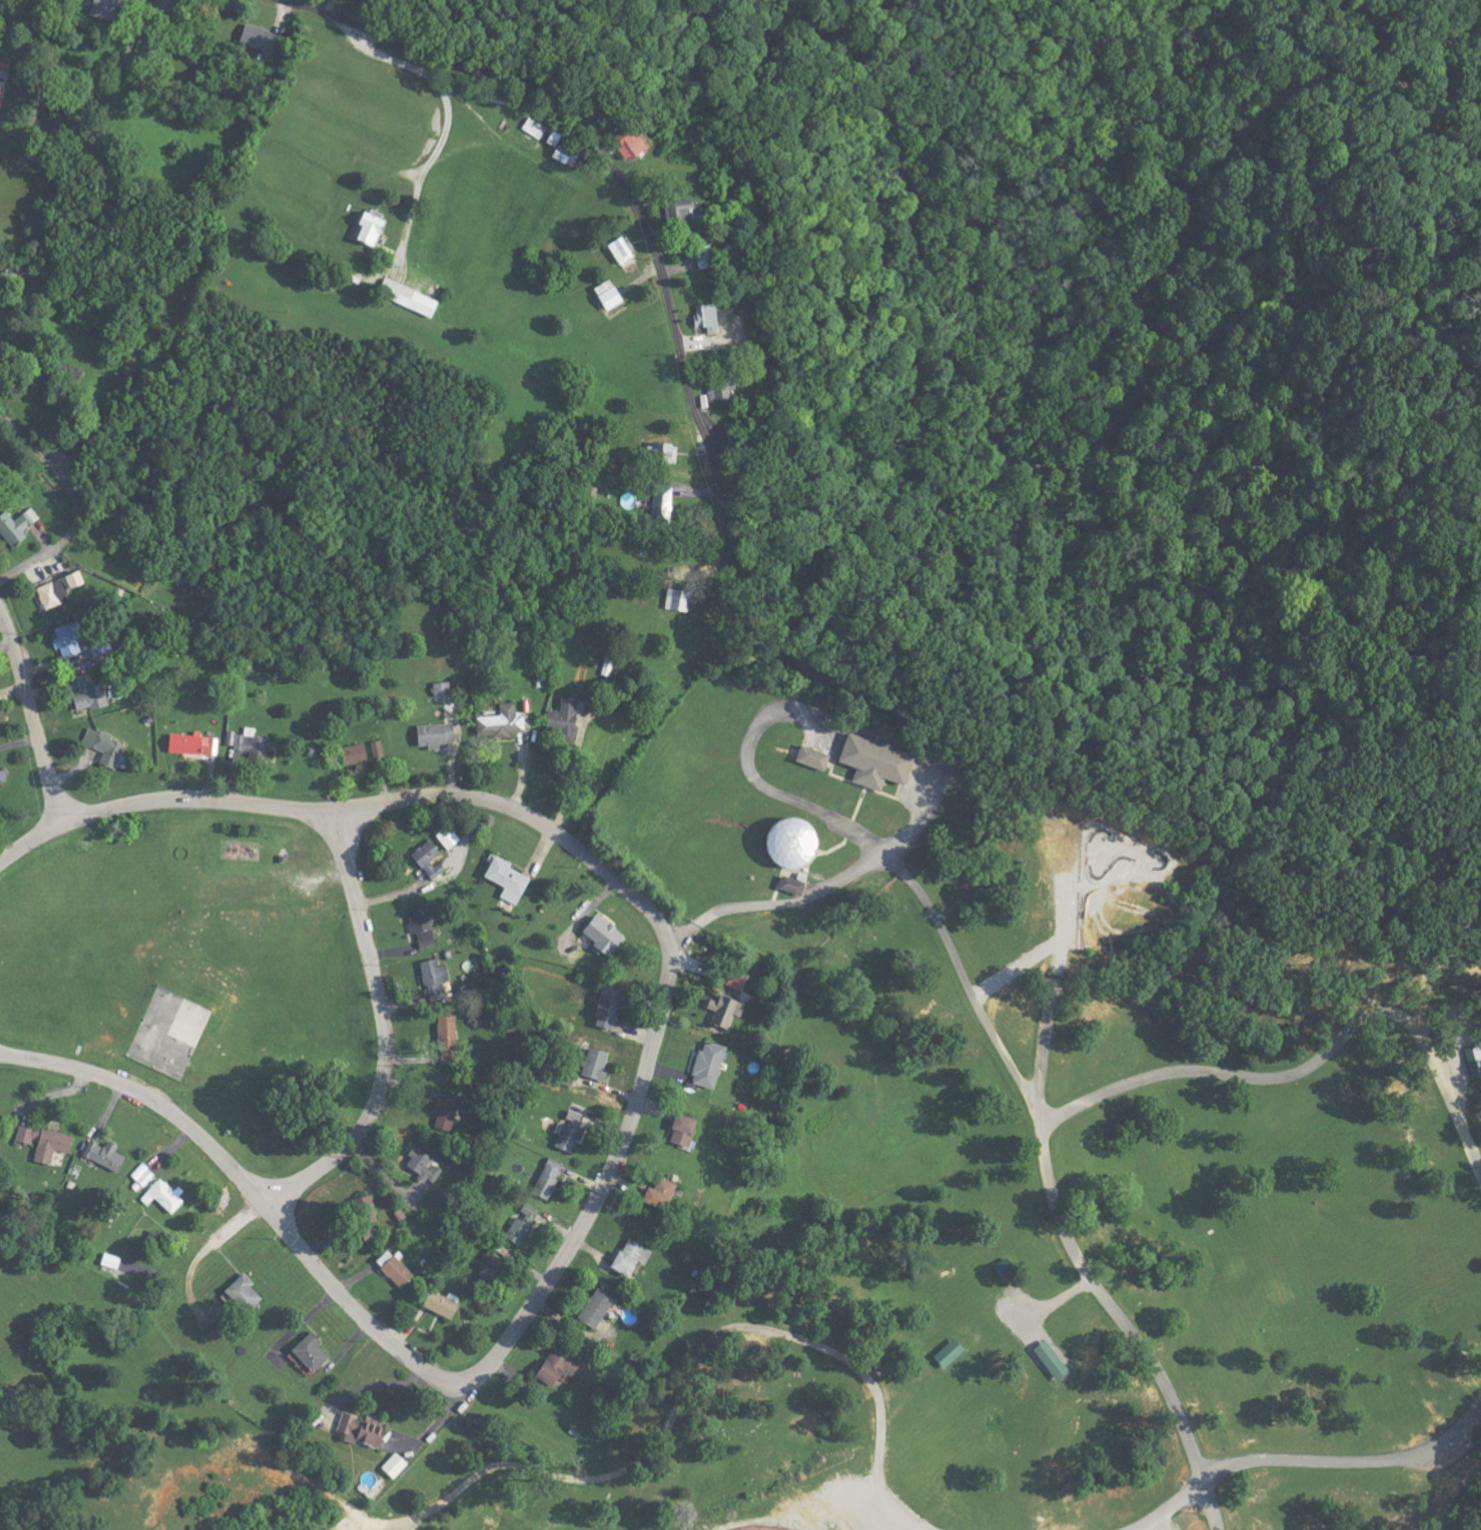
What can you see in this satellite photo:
road: (778, 23)
road: (445, 125)
road: (622, 187)
road: (63, 540)
road: (34, 720)
road: (760, 720)
road: (568, 775)
road: (346, 813)
park: (166, 1027)
road: (380, 1032)
building: (1471, 1054)
road: (1312, 1059)
road: (609, 1172)
road: (253, 1190)
park: (941, 1200)
road: (1070, 1242)
building: (1002, 1265)
road: (1044, 1303)
building: (946, 1352)
building: (1048, 1359)
road: (689, 1368)
road: (378, 1383)
road: (1307, 1458)
parking lot: (865, 1510)
park: (761, 1528)

